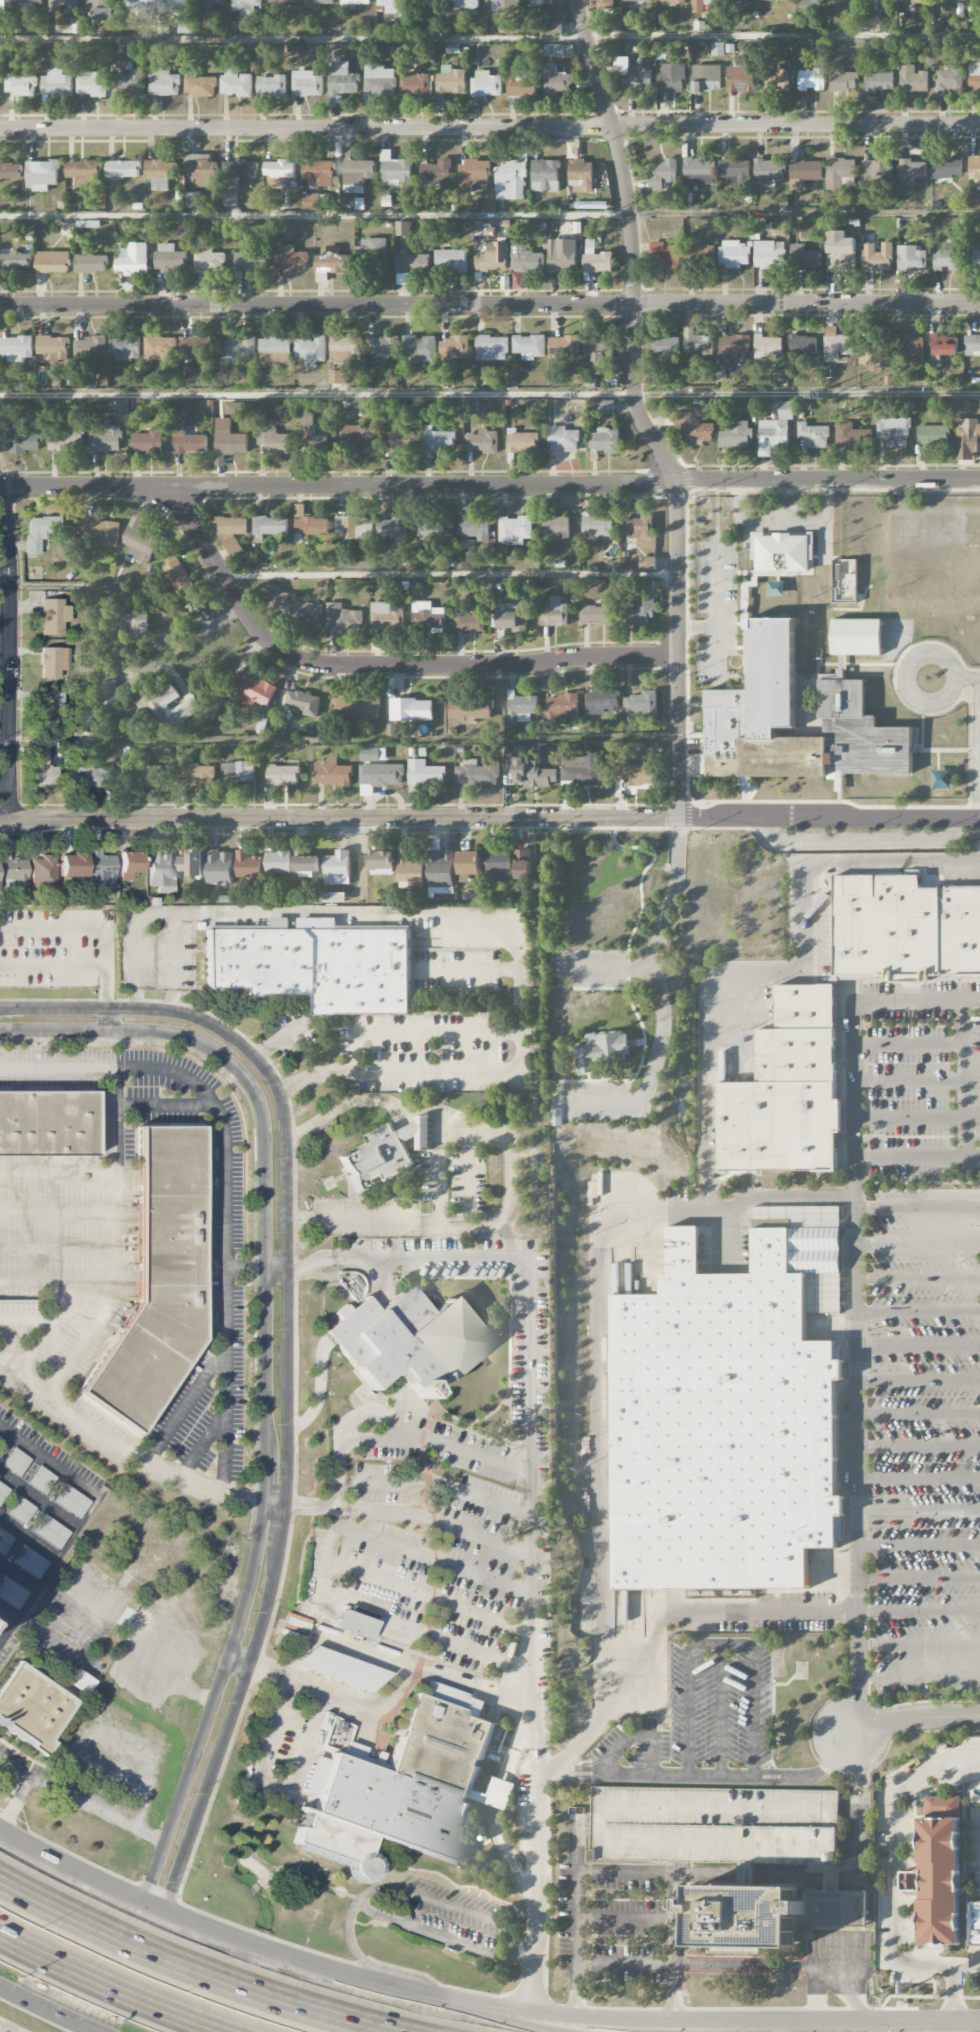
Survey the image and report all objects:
building: (637, 0)
building: (716, 0)
building: (775, 0)
building: (285, 1)
building: (913, 1)
building: (318, 2)
building: (431, 2)
building: (537, 2)
building: (671, 2)
building: (809, 2)
building: (28, 4)
building: (62, 4)
building: (352, 4)
building: (464, 4)
building: (604, 4)
building: (206, 5)
building: (246, 5)
building: (878, 5)
building: (2, 6)
building: (173, 6)
building: (697, 6)
building: (393, 7)
building: (138, 8)
building: (102, 9)
building: (513, 18)
building: (872, 21)
building: (554, 29)
road: (292, 37)
building: (717, 49)
building: (565, 52)
building: (632, 75)
building: (974, 75)
building: (671, 78)
building: (706, 78)
building: (781, 78)
building: (342, 79)
building: (557, 79)
building: (741, 79)
building: (912, 79)
building: (948, 79)
building: (811, 80)
building: (843, 81)
building: (163, 82)
building: (879, 82)
building: (57, 83)
building: (129, 83)
building: (235, 83)
building: (306, 83)
building: (378, 83)
building: (451, 83)
building: (521, 83)
building: (92, 84)
building: (415, 84)
building: (486, 84)
building: (21, 85)
building: (200, 86)
building: (271, 86)
road: (490, 128)
building: (974, 167)
building: (122, 169)
building: (10, 170)
building: (200, 170)
building: (395, 170)
building: (279, 171)
building: (698, 171)
building: (735, 171)
building: (767, 171)
building: (876, 171)
building: (82, 172)
building: (436, 172)
building: (663, 172)
building: (910, 172)
building: (356, 173)
building: (804, 173)
building: (840, 173)
building: (42, 175)
building: (472, 175)
building: (545, 175)
building: (581, 176)
building: (237, 178)
building: (511, 181)
building: (870, 198)
building: (193, 199)
building: (973, 201)
building: (312, 202)
building: (354, 203)
road: (314, 215)
building: (403, 228)
building: (840, 251)
building: (702, 253)
building: (734, 254)
building: (372, 255)
building: (562, 255)
building: (768, 255)
building: (664, 256)
building: (877, 257)
building: (947, 257)
building: (290, 258)
building: (493, 258)
building: (804, 258)
building: (911, 258)
building: (133, 259)
building: (170, 259)
building: (526, 259)
building: (15, 260)
building: (974, 260)
building: (208, 261)
building: (251, 261)
building: (52, 262)
building: (451, 262)
building: (599, 262)
building: (330, 263)
building: (91, 264)
building: (410, 266)
road: (490, 306)
building: (836, 344)
building: (275, 345)
building: (944, 345)
building: (383, 346)
building: (529, 346)
building: (564, 346)
building: (696, 346)
building: (732, 346)
building: (767, 346)
building: (802, 346)
building: (52, 347)
building: (240, 347)
building: (345, 347)
building: (454, 347)
building: (666, 347)
building: (16, 348)
building: (124, 348)
building: (160, 348)
building: (195, 348)
building: (420, 348)
building: (492, 348)
building: (909, 348)
building: (90, 349)
building: (597, 349)
building: (311, 350)
building: (869, 356)
building: (874, 368)
building: (337, 377)
road: (318, 392)
road: (807, 392)
power tower: (377, 396)
power tower: (588, 396)
power tower: (170, 397)
power tower: (825, 397)
building: (606, 407)
building: (234, 408)
road: (640, 409)
building: (122, 411)
building: (693, 430)
building: (775, 430)
building: (311, 431)
building: (893, 432)
building: (735, 435)
building: (932, 435)
building: (66, 436)
building: (813, 436)
building: (851, 436)
building: (106, 438)
building: (355, 439)
building: (563, 439)
building: (967, 440)
building: (26, 441)
building: (147, 441)
building: (228, 441)
building: (272, 441)
building: (521, 441)
building: (604, 441)
building: (188, 442)
building: (394, 442)
building: (439, 442)
building: (481, 442)
road: (827, 480)
road: (1, 487)
road: (339, 487)
road: (825, 520)
road: (763, 522)
building: (309, 525)
building: (231, 526)
building: (270, 526)
building: (597, 526)
building: (556, 527)
building: (637, 527)
building: (353, 528)
building: (392, 528)
building: (475, 528)
building: (432, 529)
building: (515, 530)
building: (41, 531)
building: (98, 531)
building: (141, 540)
building: (782, 551)
building: (647, 563)
road: (5, 566)
building: (177, 574)
road: (449, 575)
building: (844, 581)
building: (294, 607)
road: (716, 610)
building: (639, 611)
building: (555, 612)
building: (598, 614)
building: (53, 616)
building: (426, 616)
building: (385, 617)
building: (511, 617)
building: (342, 619)
building: (469, 622)
building: (138, 625)
road: (697, 627)
building: (857, 635)
road: (185, 641)
road: (932, 653)
road: (5, 654)
road: (11, 657)
building: (54, 662)
road: (377, 666)
road: (967, 676)
building: (252, 689)
building: (107, 692)
building: (602, 700)
building: (750, 701)
building: (153, 703)
building: (304, 703)
building: (641, 704)
building: (562, 707)
building: (53, 708)
building: (358, 708)
building: (520, 709)
building: (411, 710)
building: (469, 710)
building: (81, 720)
road: (5, 738)
road: (344, 739)
road: (979, 746)
building: (56, 752)
building: (42, 767)
building: (86, 769)
building: (379, 769)
building: (530, 770)
building: (582, 770)
building: (142, 771)
building: (238, 771)
building: (333, 774)
building: (477, 774)
building: (633, 774)
building: (196, 775)
building: (283, 775)
building: (425, 776)
building: (367, 791)
road: (489, 819)
road: (863, 839)
building: (277, 862)
building: (380, 862)
building: (191, 863)
building: (468, 863)
building: (128, 864)
building: (247, 864)
building: (307, 864)
building: (498, 865)
building: (72, 866)
building: (523, 866)
building: (219, 868)
building: (337, 868)
building: (12, 871)
building: (160, 871)
building: (410, 871)
building: (43, 872)
building: (440, 872)
building: (335, 897)
road: (482, 912)
road: (73, 926)
building: (904, 931)
road: (173, 961)
building: (316, 964)
road: (53, 966)
road: (602, 967)
road: (468, 968)
road: (788, 972)
road: (107, 999)
road: (662, 1000)
building: (806, 1006)
road: (418, 1034)
road: (282, 1038)
road: (911, 1043)
building: (604, 1051)
building: (796, 1053)
road: (966, 1077)
road: (911, 1080)
road: (166, 1105)
road: (911, 1115)
building: (556, 1117)
building: (47, 1120)
building: (778, 1123)
road: (464, 1128)
road: (917, 1155)
building: (377, 1156)
road: (59, 1174)
road: (225, 1181)
road: (438, 1187)
road: (467, 1198)
road: (918, 1206)
road: (59, 1211)
road: (361, 1224)
road: (119, 1241)
road: (918, 1243)
road: (59, 1247)
road: (506, 1256)
road: (245, 1265)
road: (918, 1277)
building: (158, 1279)
road: (59, 1282)
road: (857, 1305)
road: (918, 1310)
road: (26, 1320)
road: (48, 1328)
building: (406, 1338)
road: (918, 1345)
road: (287, 1354)
road: (265, 1367)
road: (598, 1368)
road: (919, 1379)
road: (186, 1404)
road: (919, 1412)
building: (721, 1427)
road: (341, 1430)
road: (438, 1442)
road: (204, 1443)
road: (919, 1445)
road: (122, 1447)
building: (15, 1461)
road: (919, 1478)
building: (42, 1480)
road: (444, 1486)
building: (2, 1491)
road: (39, 1498)
building: (72, 1501)
road: (296, 1503)
building: (20, 1510)
road: (919, 1511)
road: (84, 1516)
road: (435, 1519)
building: (51, 1531)
road: (28, 1537)
building: (5, 1542)
road: (919, 1544)
building: (29, 1561)
road: (324, 1566)
road: (18, 1573)
road: (919, 1576)
building: (11, 1592)
road: (430, 1596)
road: (62, 1602)
road: (919, 1610)
road: (707, 1611)
building: (353, 1623)
road: (535, 1623)
road: (722, 1643)
road: (919, 1644)
road: (67, 1647)
road: (363, 1650)
road: (239, 1660)
building: (339, 1669)
road: (919, 1677)
building: (80, 1681)
road: (472, 1689)
road: (338, 1695)
building: (32, 1706)
road: (721, 1708)
road: (914, 1718)
road: (366, 1725)
road: (634, 1735)
road: (546, 1770)
road: (712, 1773)
road: (272, 1782)
building: (401, 1788)
building: (972, 1793)
building: (499, 1794)
road: (80, 1802)
road: (16, 1803)
road: (849, 1808)
road: (495, 1810)
building: (715, 1825)
parking lot: (715, 1825)
road: (849, 1847)
building: (938, 1872)
road: (893, 1873)
road: (787, 1875)
road: (390, 1884)
road: (537, 1890)
building: (836, 1904)
road: (577, 1910)
building: (747, 1915)
road: (626, 1917)
road: (838, 1920)
building: (975, 1922)
road: (211, 1929)
road: (436, 1935)
road: (675, 1940)
road: (528, 1946)
road: (707, 1964)
road: (179, 1969)
road: (112, 1986)
road: (817, 1993)
road: (953, 1993)
road: (849, 1996)
road: (51, 2008)
road: (494, 2015)
road: (687, 2019)
road: (959, 2021)

